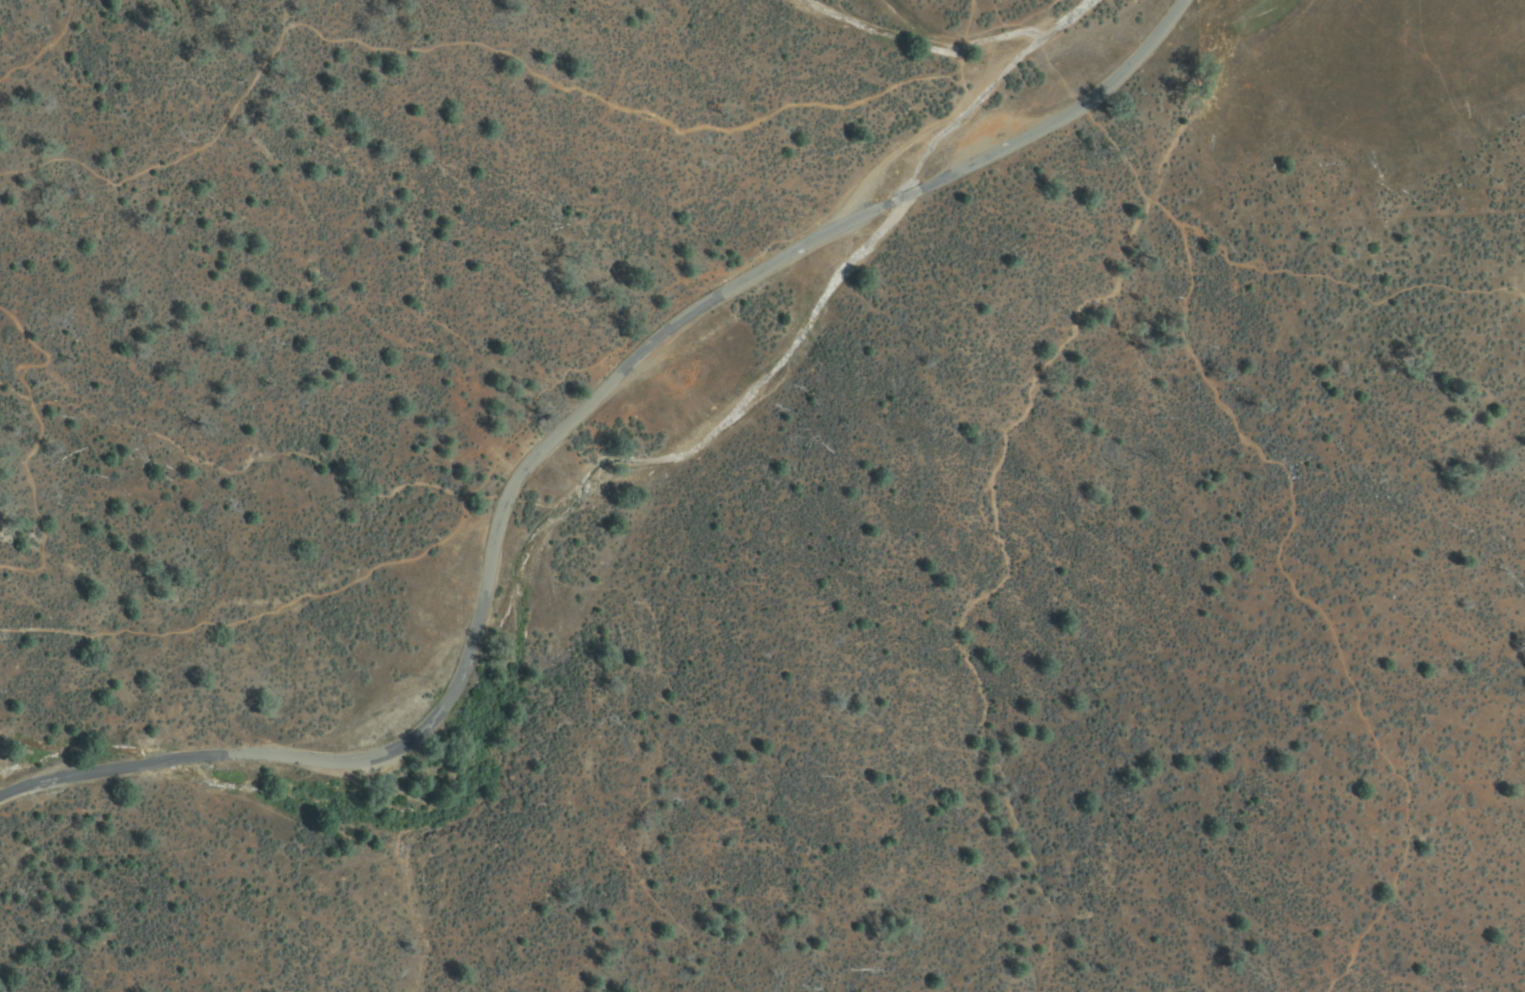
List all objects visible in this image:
road: (545, 423)
road: (1252, 446)

